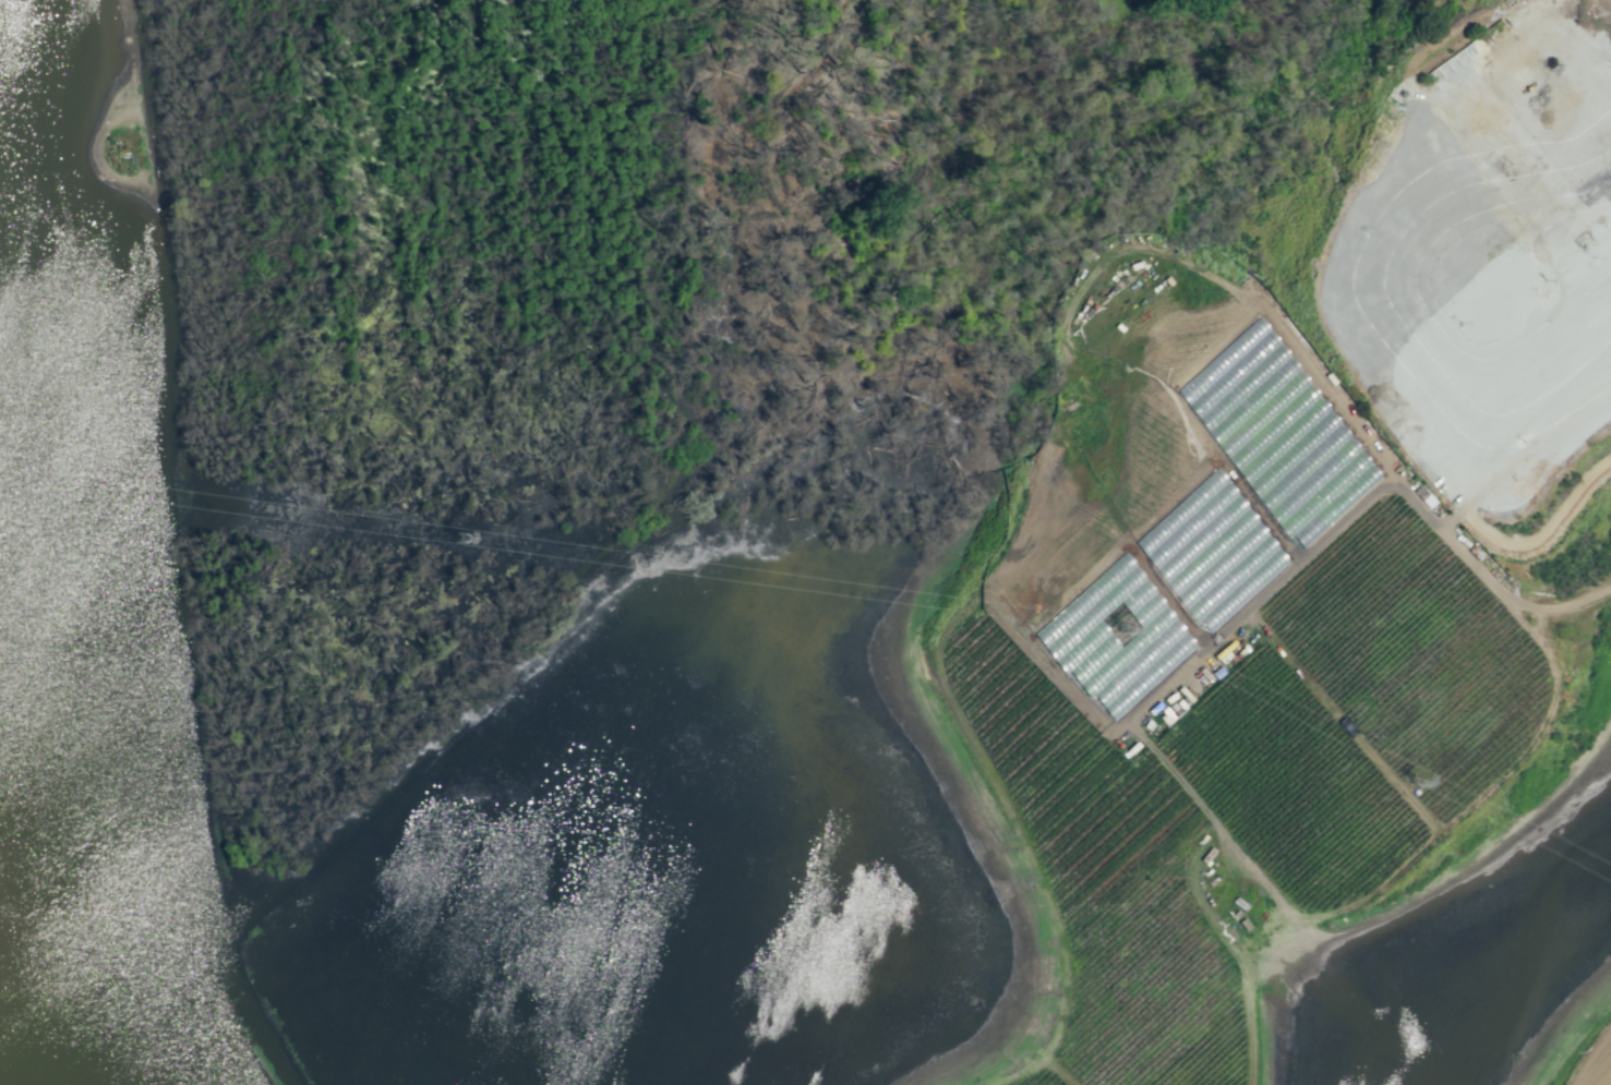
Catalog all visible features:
crop: (1165, 36)
building: (1317, 483)
power tower: (462, 538)
building: (1211, 551)
crop: (766, 586)
power tower: (1127, 629)
building: (1115, 638)
power tower: (1418, 781)

